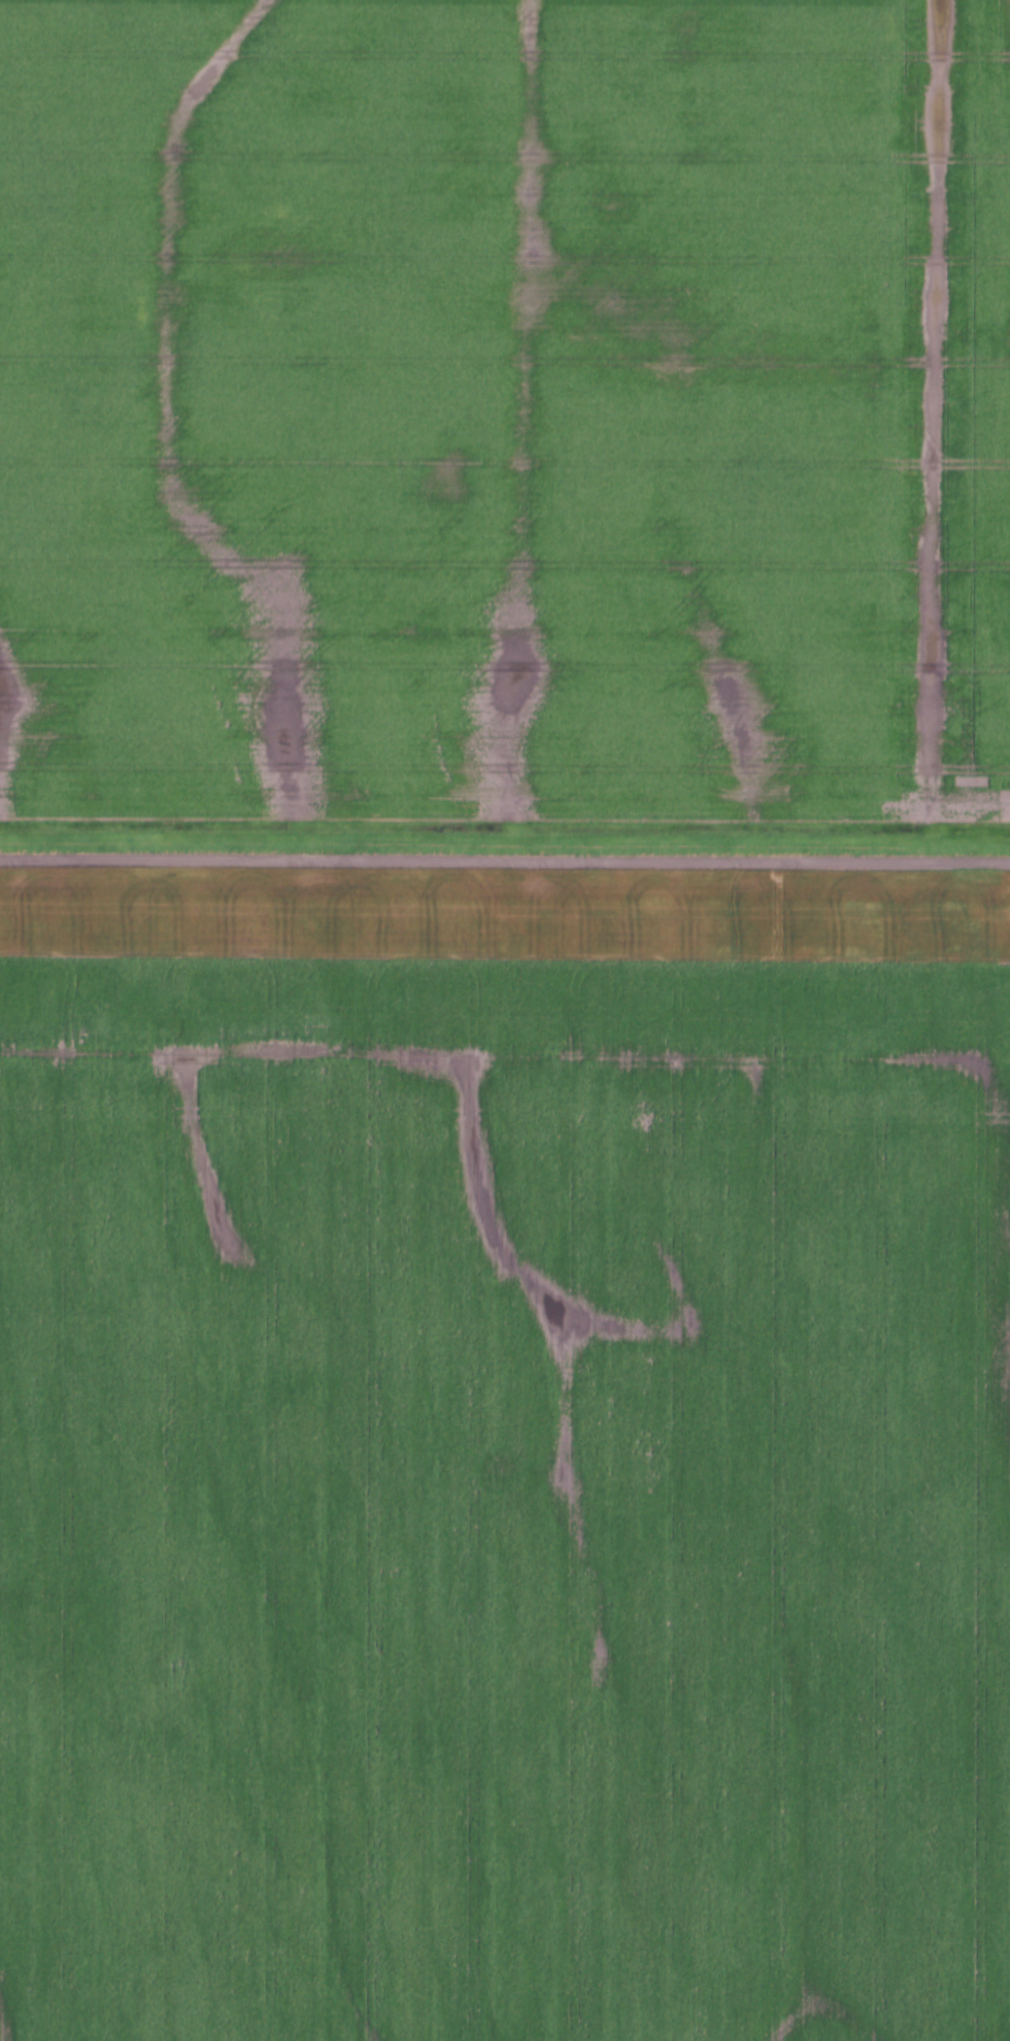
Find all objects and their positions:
road: (505, 862)

